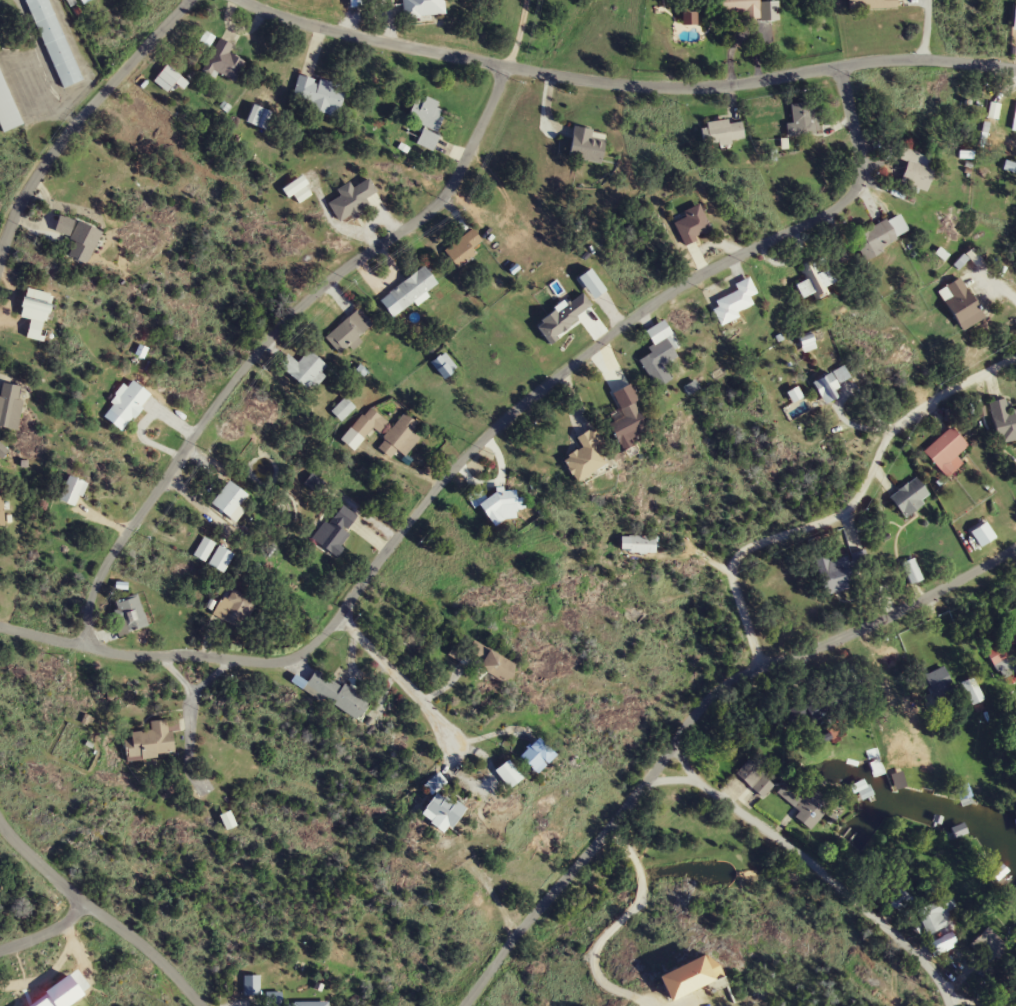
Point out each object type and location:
building: (84, 1)
building: (871, 4)
building: (739, 6)
building: (424, 7)
road: (918, 29)
road: (511, 34)
building: (54, 42)
road: (30, 44)
building: (224, 61)
building: (166, 78)
road: (618, 81)
building: (318, 96)
building: (7, 108)
building: (426, 114)
road: (77, 116)
building: (805, 121)
building: (722, 132)
building: (428, 140)
building: (588, 145)
building: (916, 170)
building: (297, 190)
building: (352, 200)
building: (692, 224)
building: (879, 236)
building: (79, 238)
building: (463, 248)
building: (815, 282)
building: (409, 292)
building: (735, 301)
building: (962, 304)
building: (37, 313)
building: (348, 331)
road: (266, 336)
building: (808, 344)
building: (660, 353)
building: (304, 368)
building: (831, 385)
building: (129, 402)
building: (11, 404)
building: (342, 408)
building: (1003, 420)
building: (630, 423)
building: (363, 428)
building: (400, 437)
road: (479, 440)
building: (947, 452)
building: (586, 456)
building: (72, 491)
building: (910, 497)
building: (231, 501)
road: (840, 503)
building: (1, 506)
building: (503, 506)
building: (336, 529)
building: (638, 544)
building: (203, 549)
building: (221, 559)
building: (857, 559)
building: (911, 571)
building: (835, 574)
building: (235, 608)
building: (129, 614)
building: (1005, 654)
building: (498, 665)
road: (209, 676)
building: (938, 680)
road: (405, 688)
building: (972, 692)
building: (337, 693)
road: (188, 694)
building: (829, 703)
road: (689, 715)
building: (150, 741)
building: (538, 754)
building: (509, 773)
building: (756, 778)
building: (861, 789)
building: (806, 804)
building: (443, 811)
road: (813, 869)
building: (893, 896)
building: (934, 916)
road: (96, 918)
road: (613, 929)
road: (42, 931)
building: (943, 943)
building: (988, 944)
building: (688, 977)
building: (251, 984)
building: (274, 998)
building: (309, 1003)

